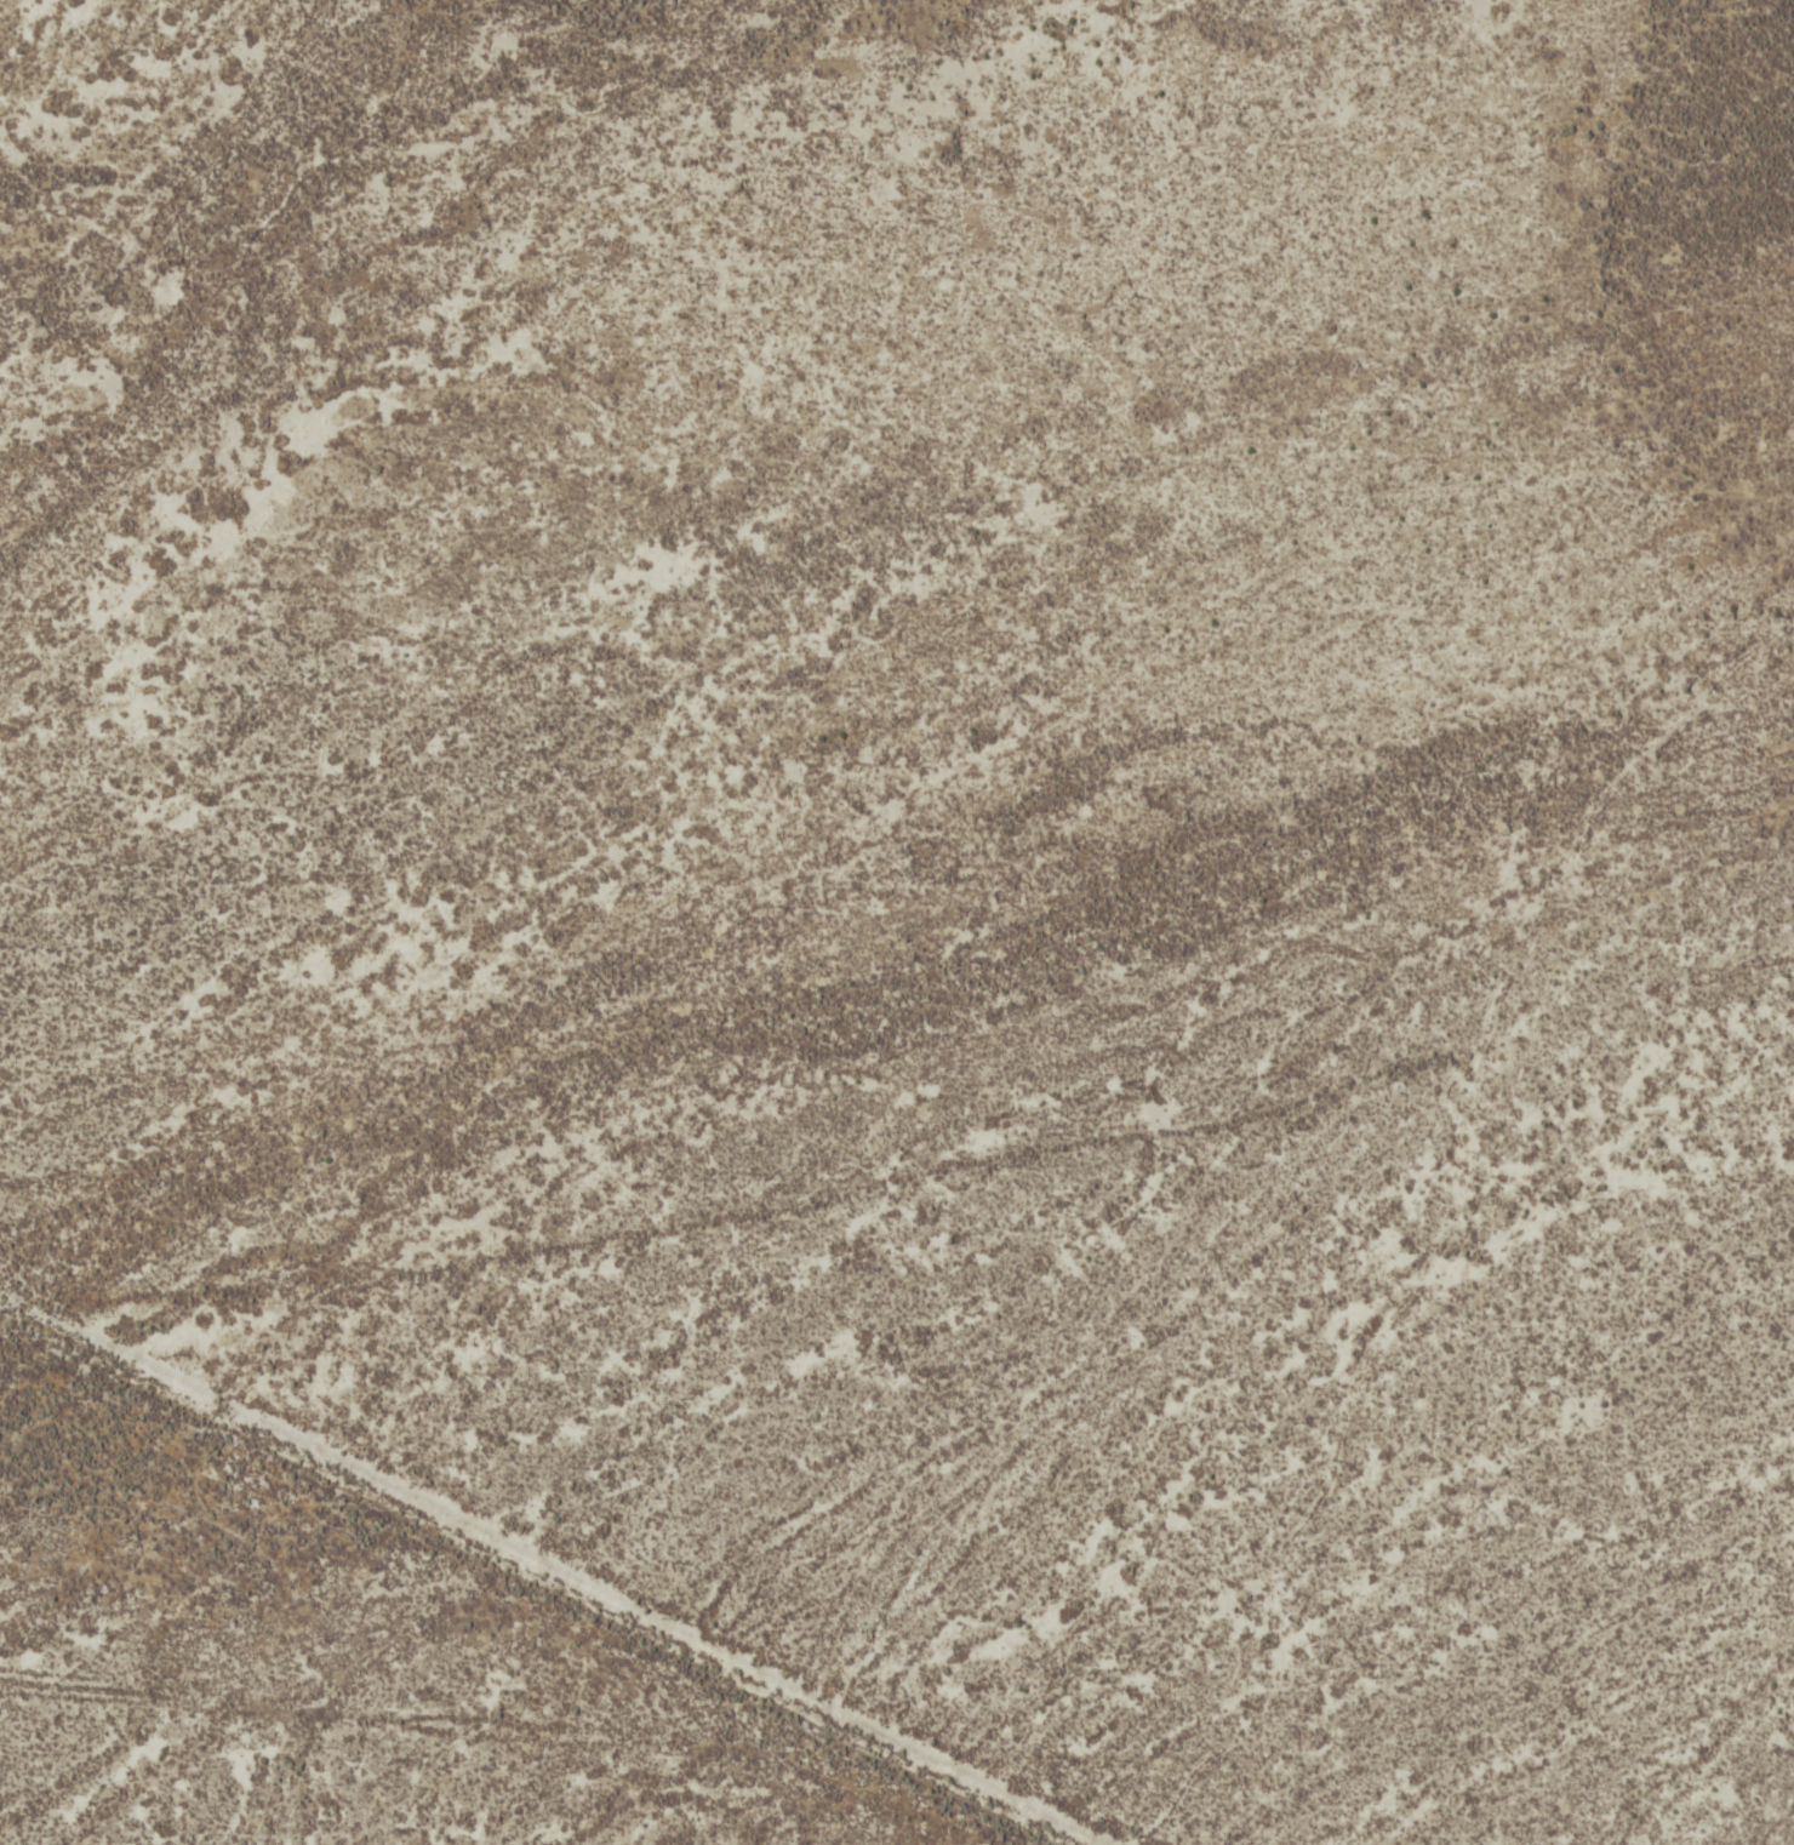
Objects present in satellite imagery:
crop: (897, 922)

